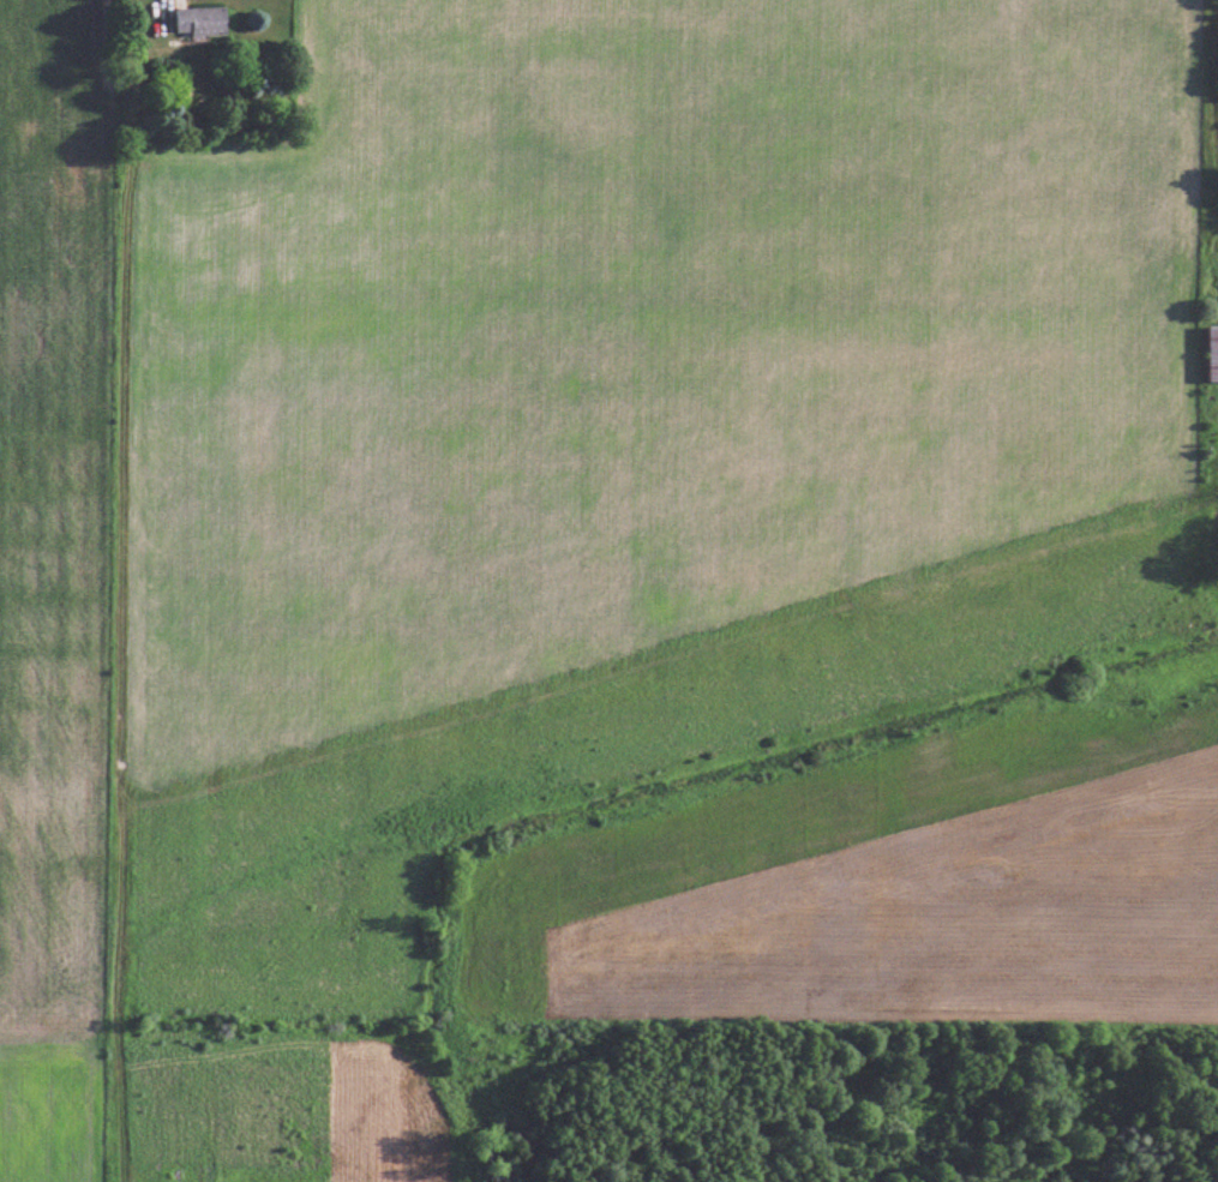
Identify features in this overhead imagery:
building: (202, 22)
building: (1214, 356)

